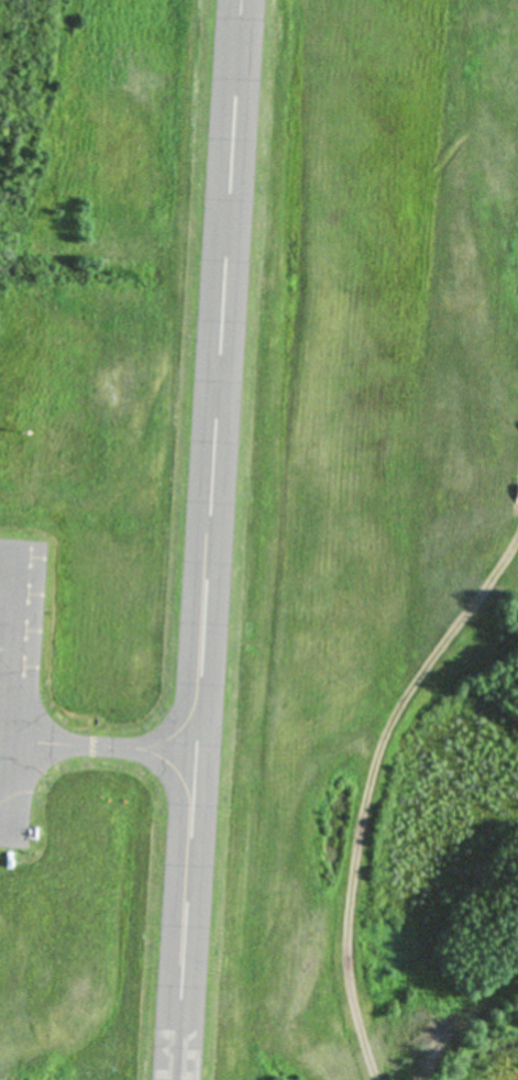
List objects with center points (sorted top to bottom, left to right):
airport runway: (208, 539)
airport: (258, 540)
airport apron: (19, 684)
airport taxiway: (115, 749)
road: (365, 1006)

